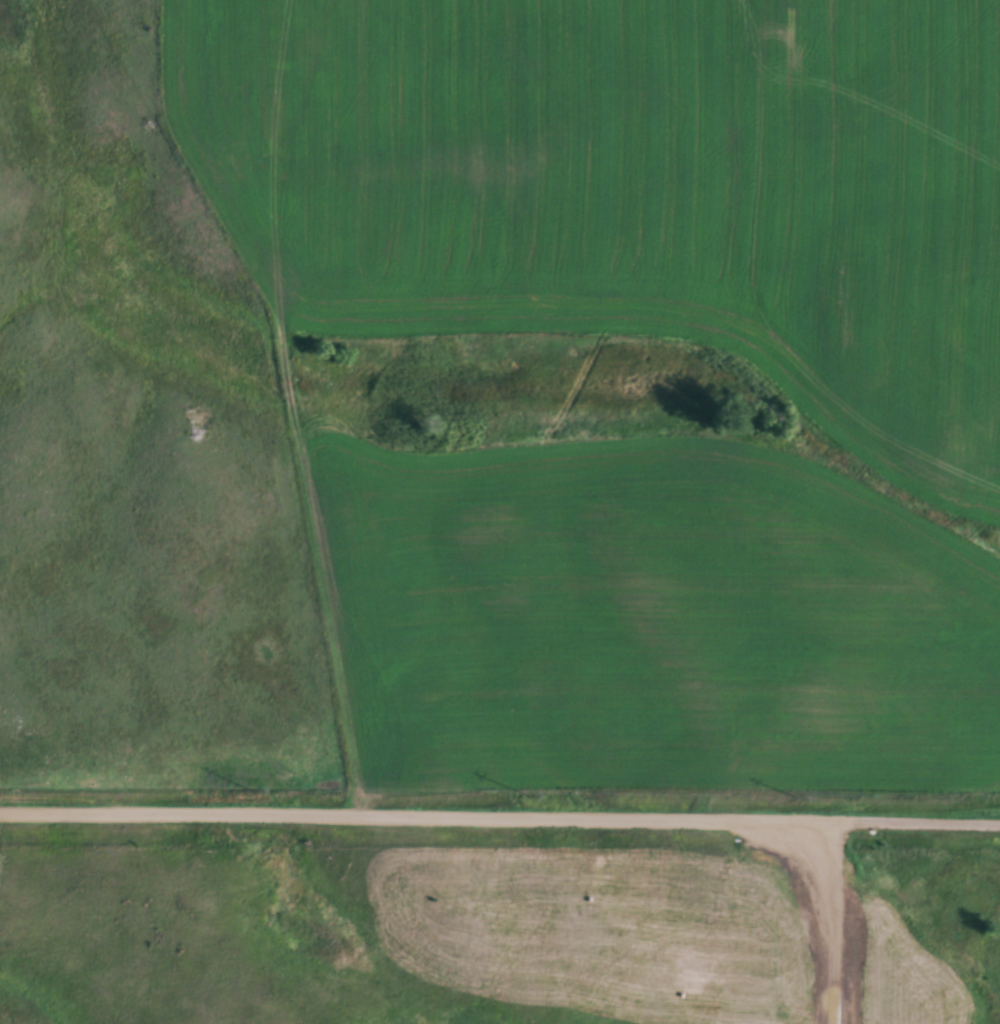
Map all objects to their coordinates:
river: (602, 391)
road: (500, 815)

